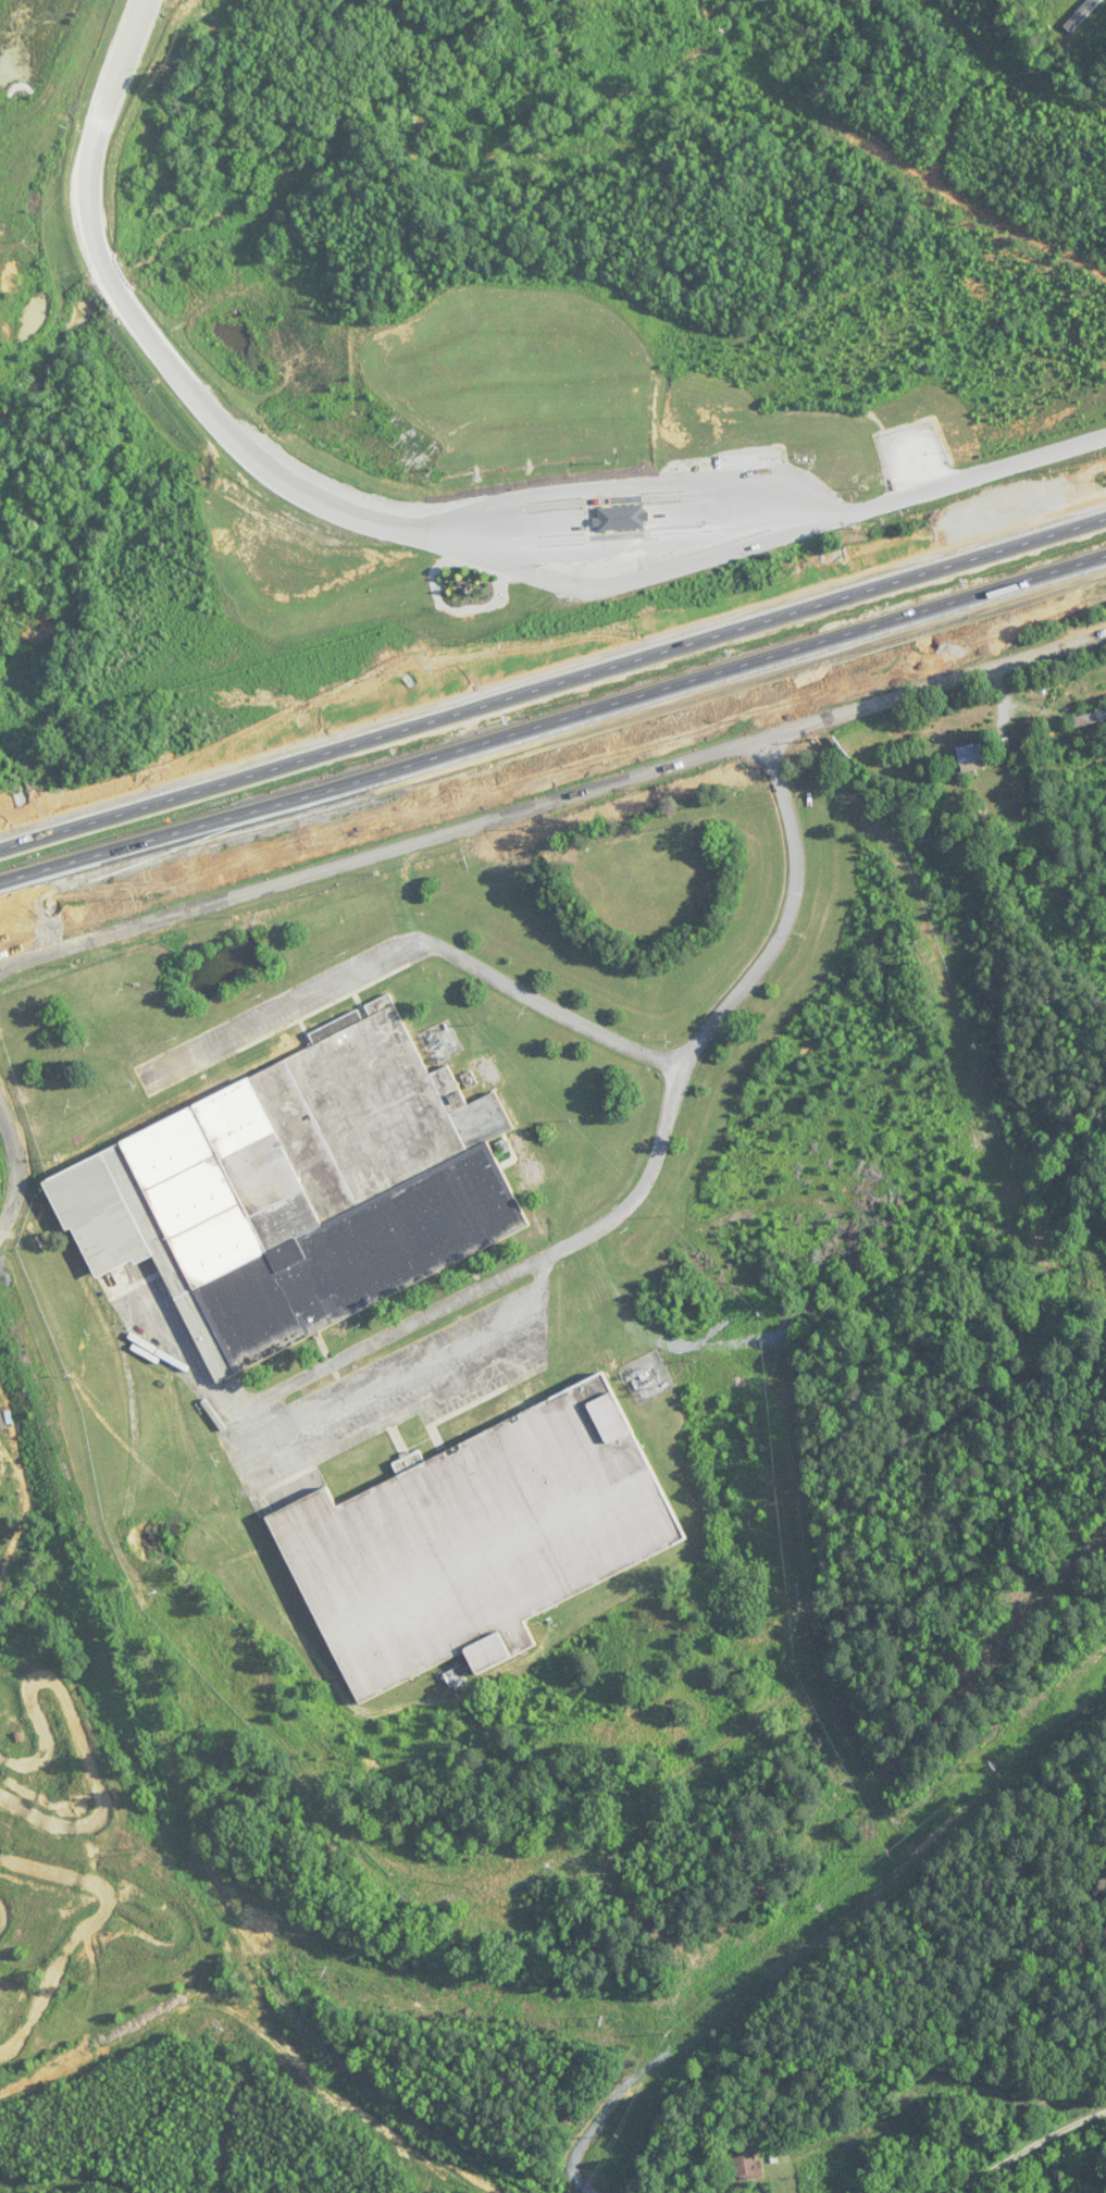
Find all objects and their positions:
quarry: (50, 65)
road: (991, 476)
road: (552, 680)
road: (552, 717)
building: (1088, 719)
building: (970, 757)
road: (551, 804)
road: (418, 942)
road: (20, 1167)
building: (297, 1191)
road: (609, 1218)
power substation: (645, 1374)
road: (407, 1376)
building: (475, 1541)
railway: (178, 1811)
building: (745, 2165)

